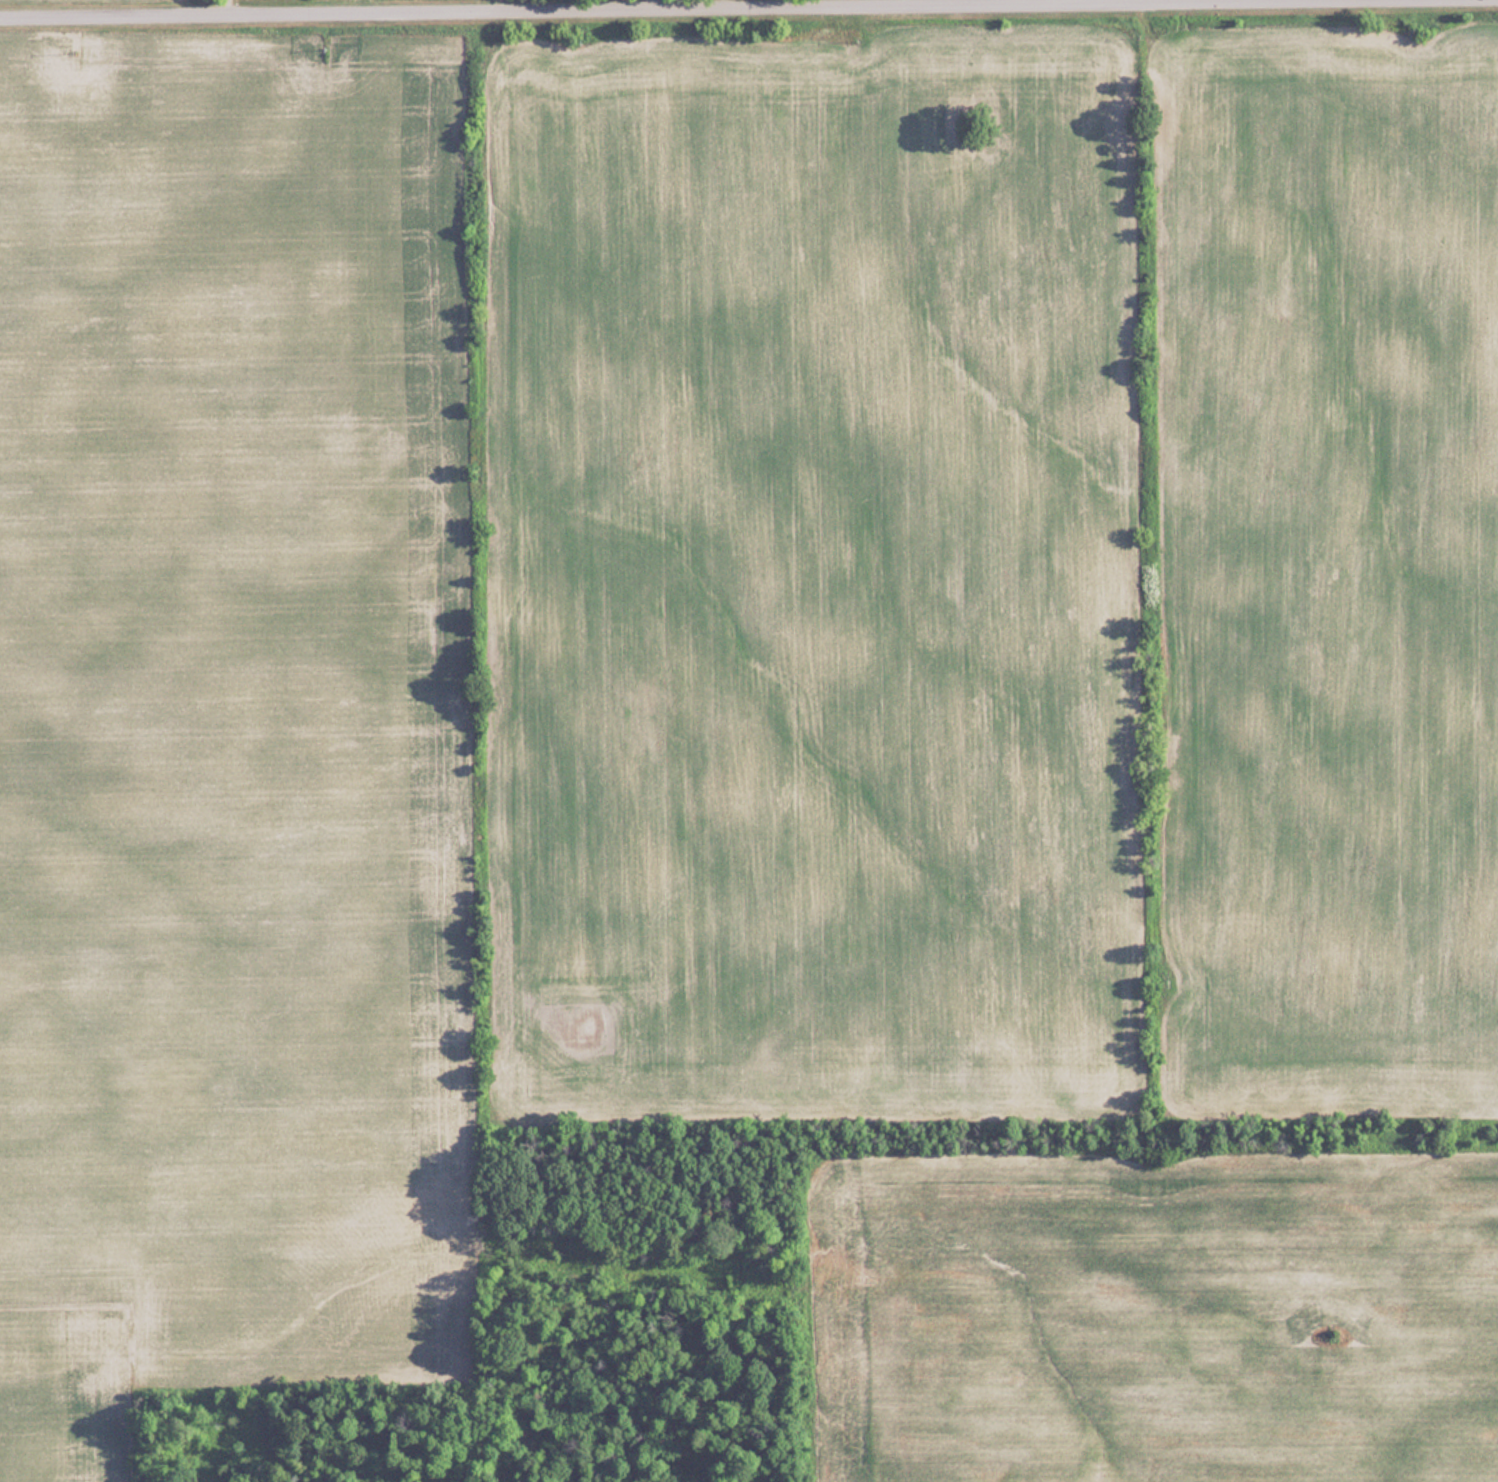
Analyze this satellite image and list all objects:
road: (748, 11)

